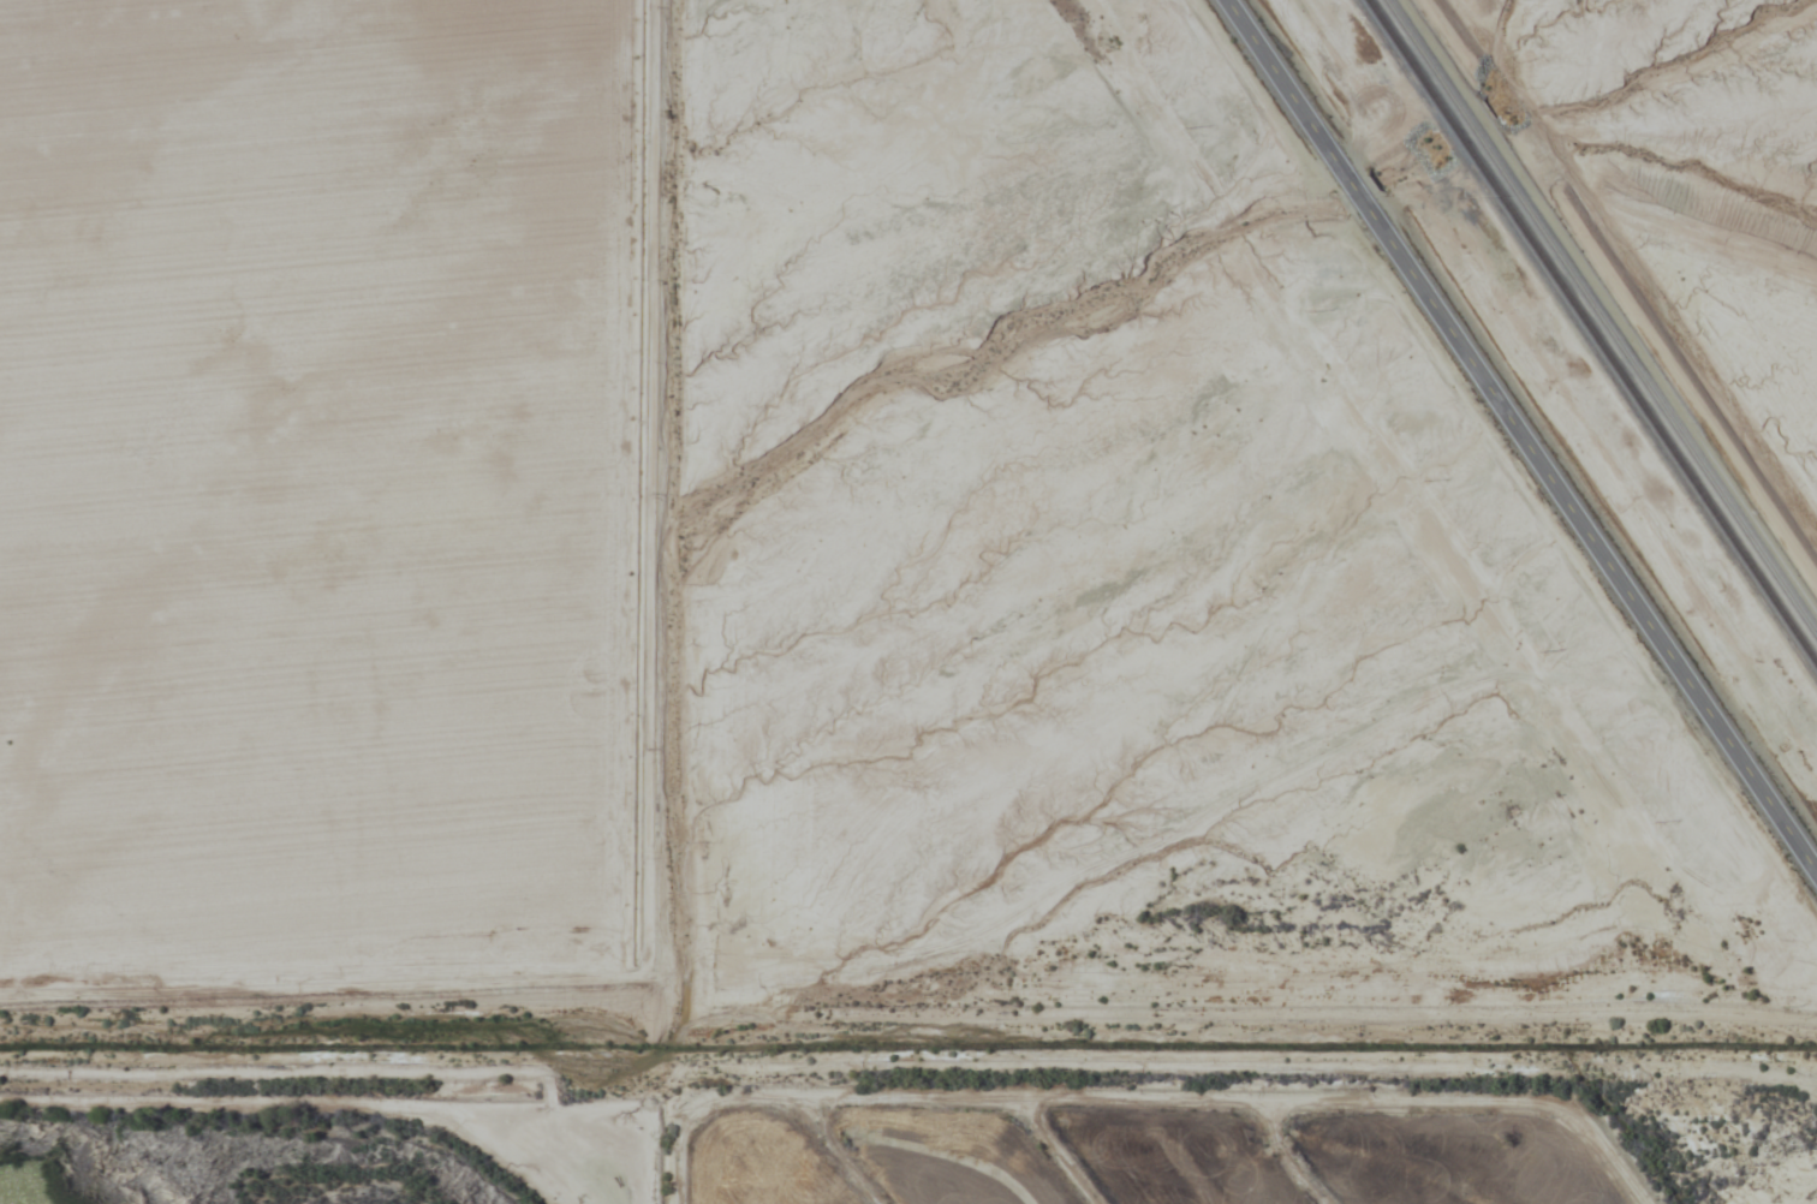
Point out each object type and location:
railway: (1605, 311)
railway: (1593, 329)
road: (1523, 434)

